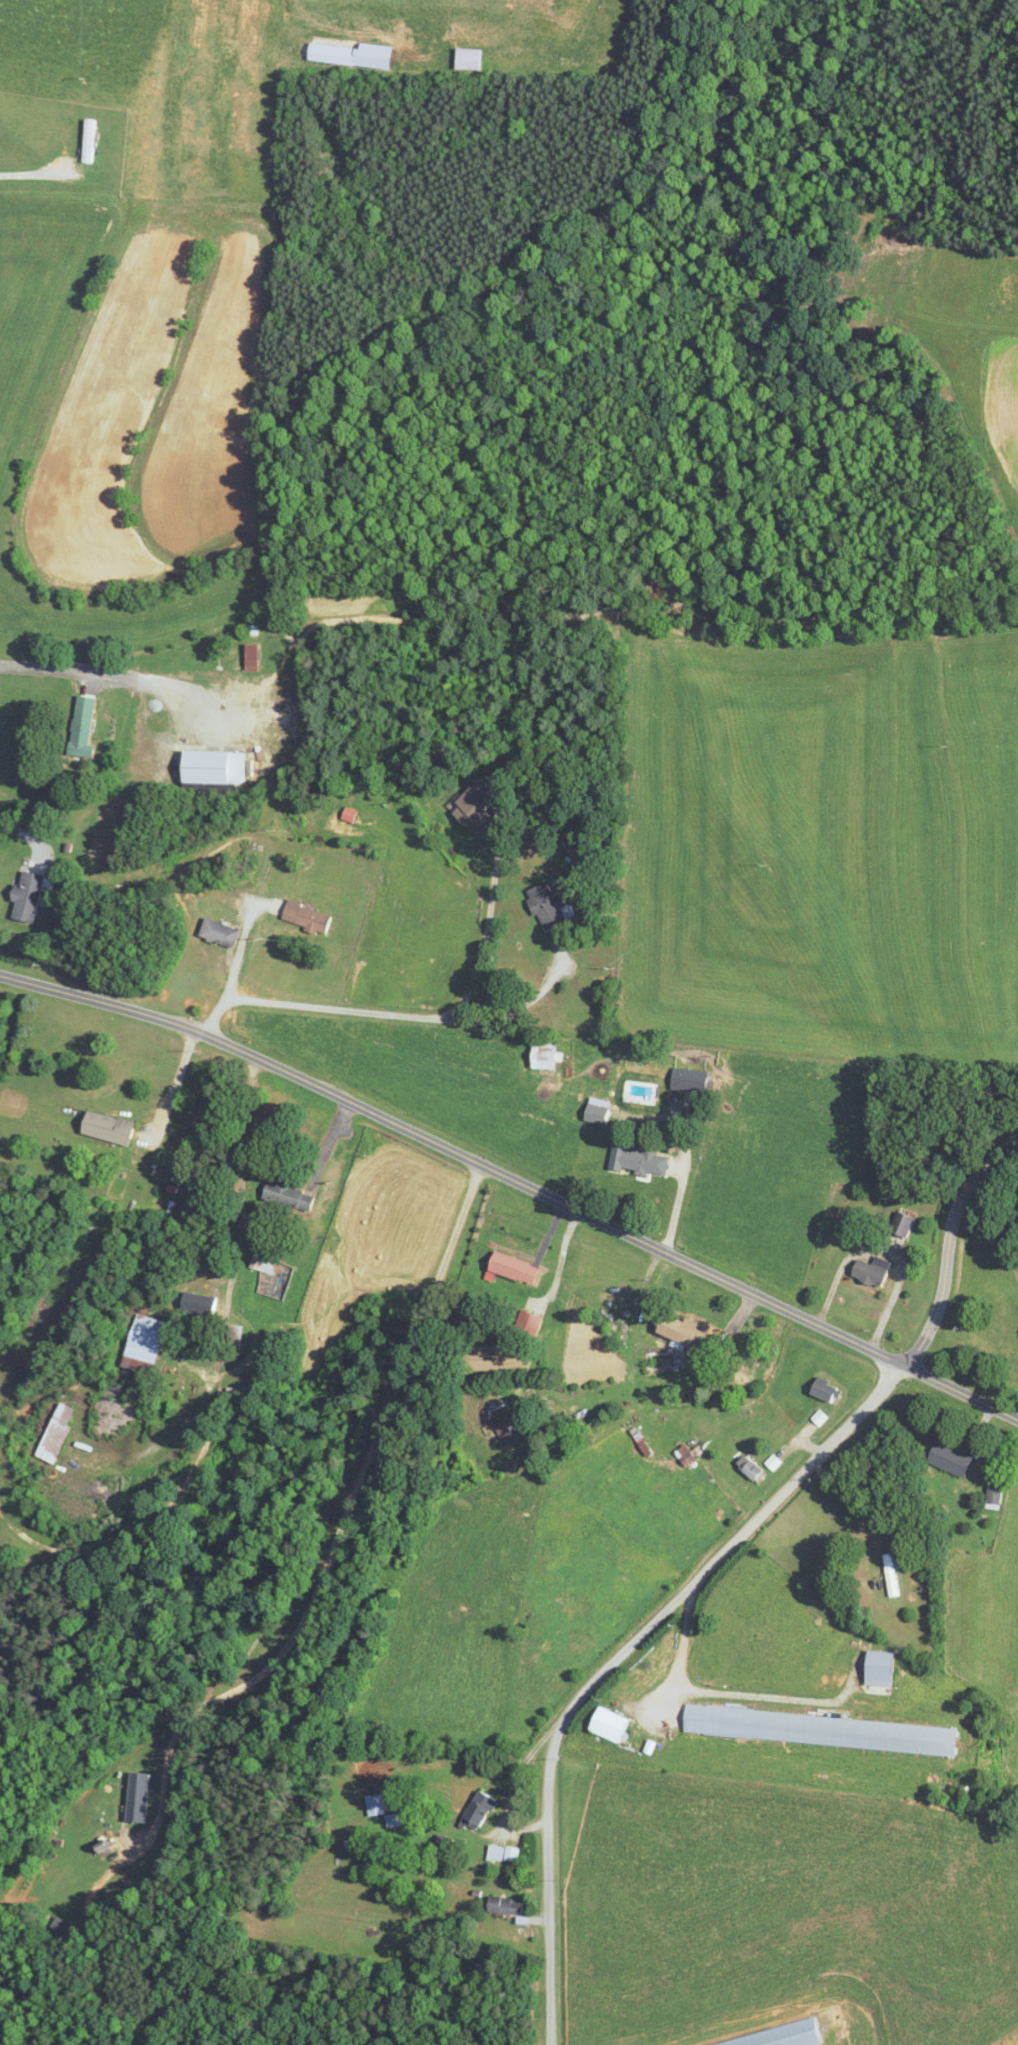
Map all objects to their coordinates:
building: (467, 4)
building: (380, 16)
building: (356, 54)
building: (474, 58)
building: (195, 75)
building: (246, 77)
road: (27, 173)
building: (255, 655)
road: (107, 674)
building: (86, 727)
building: (217, 767)
building: (477, 806)
road: (26, 833)
road: (492, 886)
building: (28, 896)
building: (552, 907)
building: (311, 917)
building: (225, 933)
road: (239, 953)
road: (489, 986)
road: (329, 1009)
building: (549, 1056)
building: (694, 1081)
road: (173, 1088)
building: (600, 1111)
building: (112, 1128)
building: (642, 1160)
road: (683, 1172)
road: (515, 1181)
building: (293, 1196)
building: (900, 1227)
road: (948, 1244)
building: (520, 1268)
building: (269, 1269)
building: (864, 1273)
building: (203, 1305)
building: (533, 1324)
building: (689, 1330)
building: (151, 1344)
building: (283, 1348)
building: (827, 1388)
building: (245, 1397)
building: (60, 1432)
building: (688, 1455)
building: (951, 1458)
building: (754, 1467)
road: (338, 1527)
building: (893, 1574)
road: (616, 1661)
building: (612, 1724)
building: (826, 1730)
building: (379, 1804)
building: (481, 1810)
building: (497, 1853)
building: (507, 1905)
building: (782, 2037)

